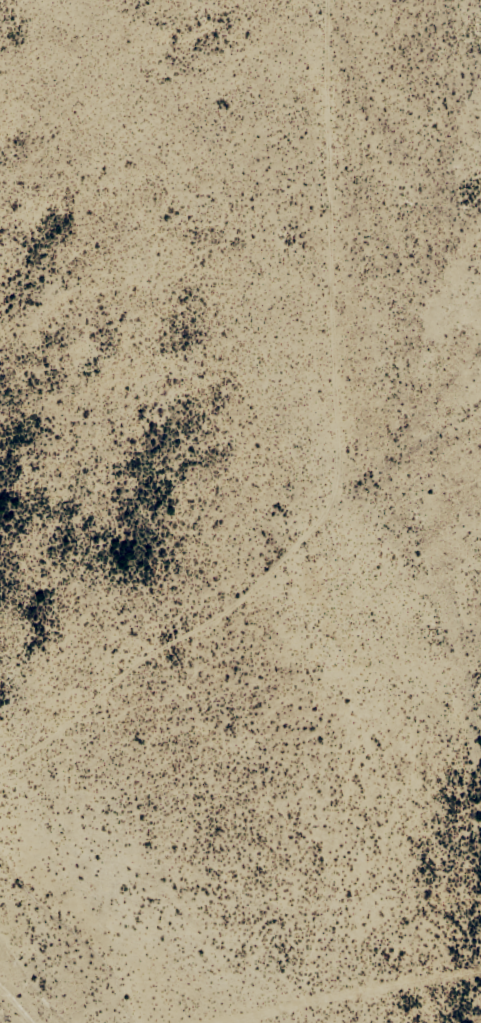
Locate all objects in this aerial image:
road: (41, 979)

